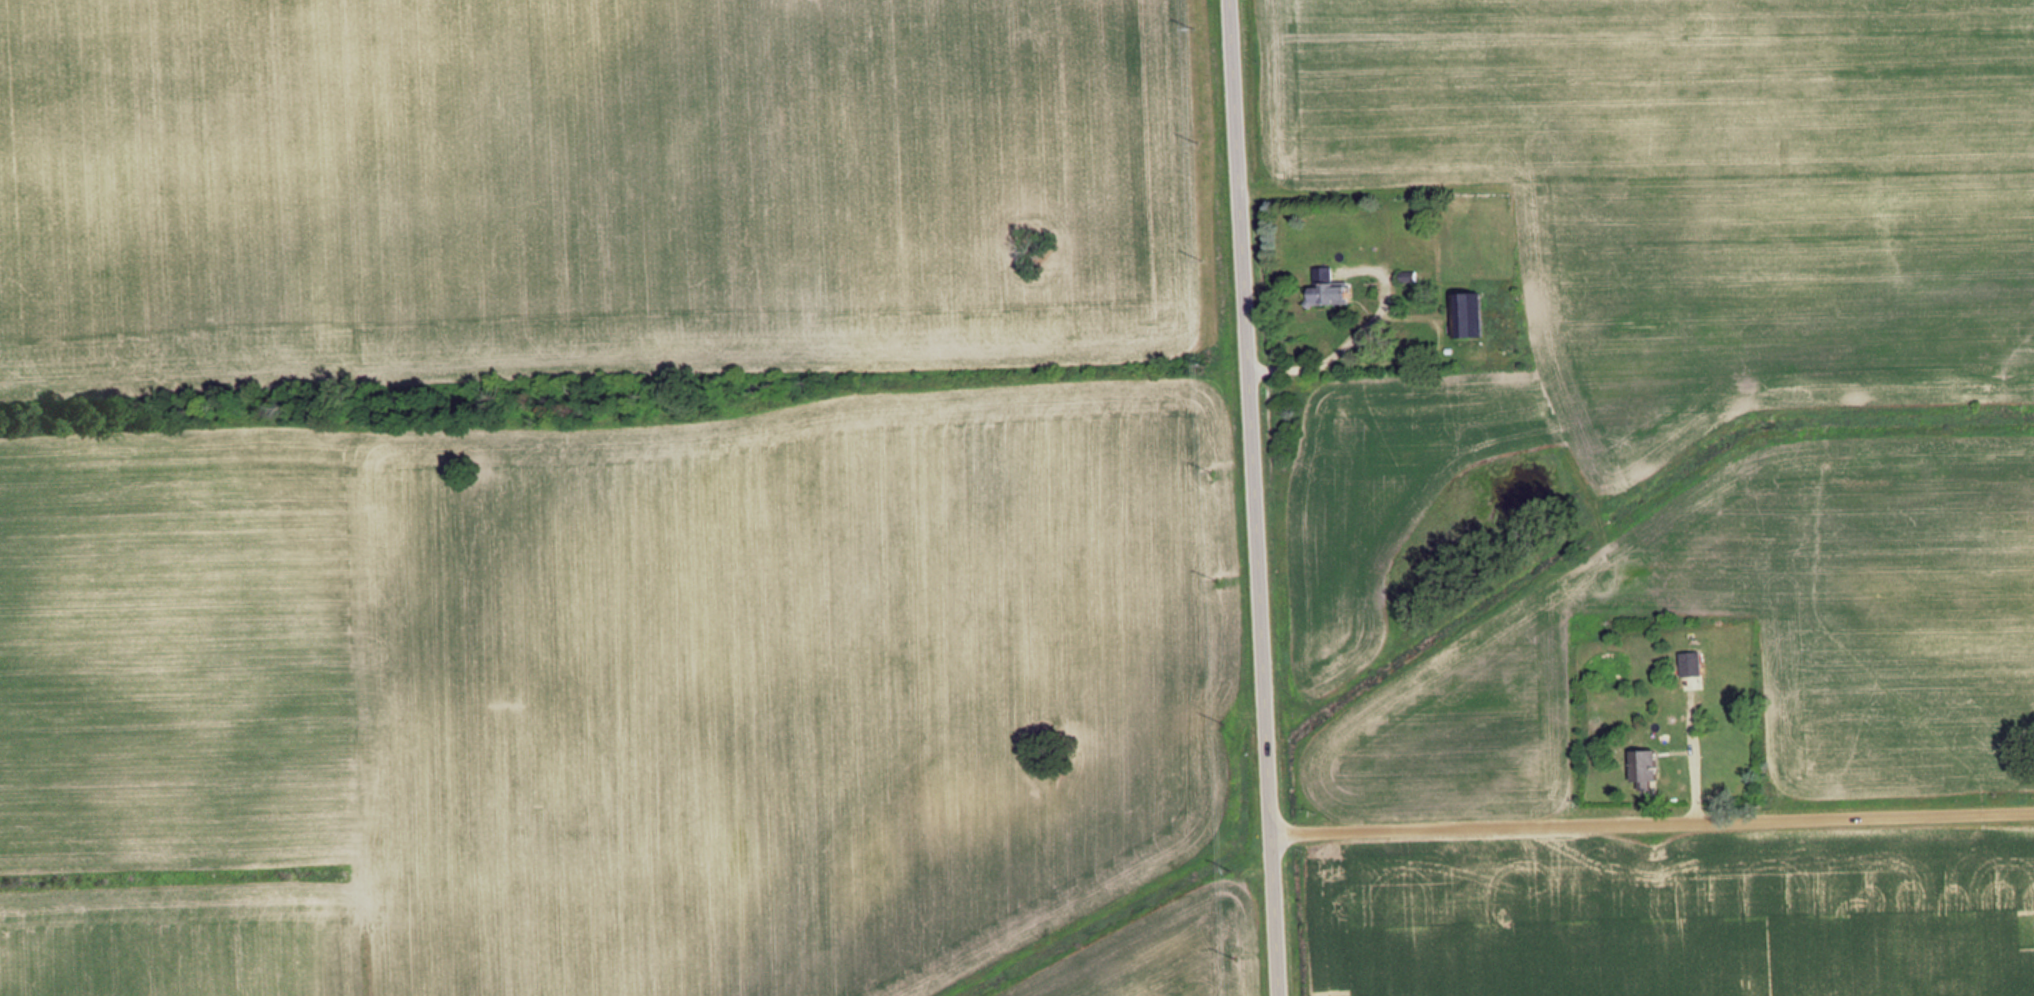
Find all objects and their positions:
building: (1326, 289)
building: (1465, 315)
road: (1260, 497)
building: (1691, 664)
building: (1645, 769)
road: (1656, 823)

